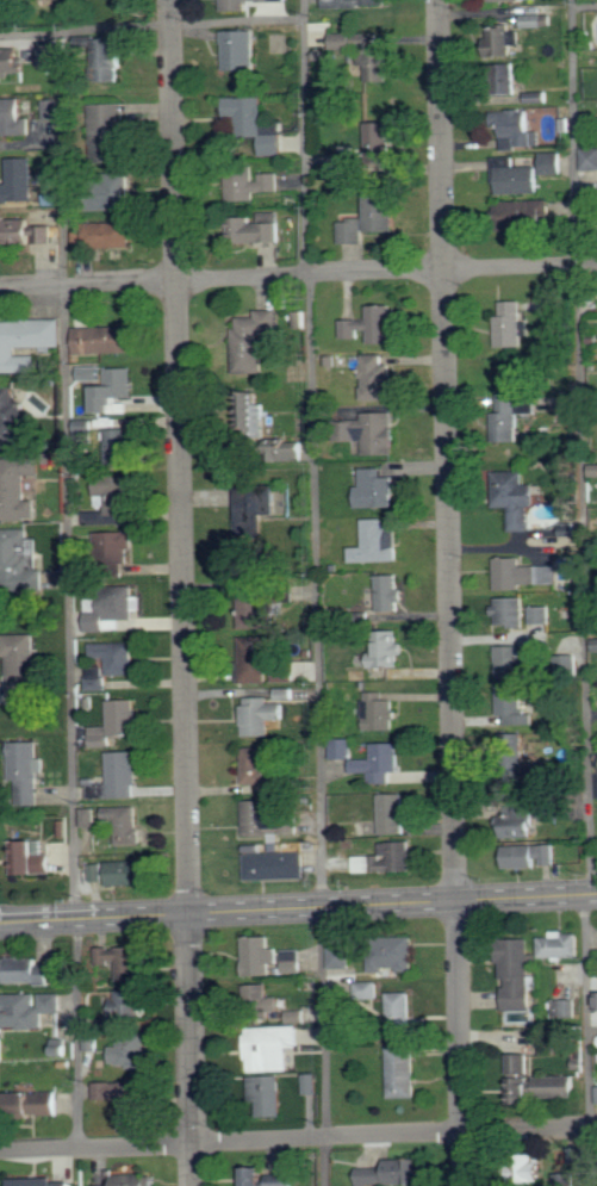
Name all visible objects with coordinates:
building: (276, 0)
building: (505, 0)
building: (354, 4)
building: (237, 5)
road: (583, 5)
building: (533, 20)
road: (151, 25)
building: (505, 42)
building: (241, 51)
building: (366, 55)
building: (46, 58)
building: (111, 61)
building: (12, 62)
building: (504, 79)
building: (539, 97)
building: (50, 110)
building: (13, 118)
building: (256, 124)
building: (518, 130)
building: (110, 133)
building: (380, 143)
building: (590, 159)
building: (552, 163)
building: (515, 178)
building: (18, 181)
building: (251, 185)
building: (117, 191)
building: (381, 210)
building: (528, 213)
building: (257, 228)
building: (352, 230)
building: (24, 231)
building: (104, 234)
road: (298, 277)
building: (300, 319)
building: (372, 324)
building: (511, 324)
building: (104, 339)
building: (253, 339)
building: (26, 342)
building: (89, 372)
building: (378, 378)
building: (113, 390)
building: (253, 411)
building: (512, 415)
building: (12, 418)
building: (373, 431)
building: (118, 446)
road: (579, 447)
building: (293, 451)
building: (17, 488)
building: (375, 488)
building: (116, 492)
building: (516, 498)
building: (260, 507)
building: (378, 542)
building: (116, 545)
building: (19, 560)
building: (521, 573)
road: (68, 589)
road: (181, 592)
road: (315, 592)
building: (388, 592)
road: (450, 592)
building: (113, 608)
building: (256, 609)
building: (510, 610)
building: (540, 614)
building: (596, 645)
building: (387, 648)
building: (116, 657)
building: (254, 659)
building: (515, 663)
building: (20, 664)
building: (284, 671)
building: (97, 678)
building: (284, 694)
building: (514, 706)
building: (379, 710)
building: (261, 714)
building: (117, 722)
building: (512, 744)
building: (341, 749)
building: (379, 762)
building: (255, 765)
building: (26, 771)
building: (123, 774)
building: (278, 787)
building: (556, 812)
building: (392, 813)
building: (88, 816)
building: (272, 818)
building: (521, 820)
building: (125, 822)
building: (529, 856)
building: (31, 858)
building: (387, 858)
building: (276, 865)
building: (98, 873)
building: (126, 873)
road: (298, 907)
building: (561, 945)
building: (257, 955)
building: (393, 956)
building: (341, 957)
building: (125, 961)
building: (292, 961)
building: (26, 971)
building: (518, 974)
building: (367, 991)
building: (130, 1006)
building: (399, 1008)
building: (565, 1008)
building: (27, 1010)
building: (297, 1016)
road: (527, 1031)
road: (586, 1041)
building: (92, 1043)
building: (272, 1048)
building: (61, 1049)
building: (131, 1050)
building: (402, 1072)
building: (520, 1078)
building: (311, 1083)
building: (556, 1087)
building: (596, 1092)
building: (267, 1095)
building: (126, 1097)
building: (35, 1103)
road: (298, 1140)
building: (530, 1169)
building: (388, 1173)
building: (256, 1176)
building: (136, 1179)
building: (282, 1179)
building: (39, 1181)
building: (111, 1185)

